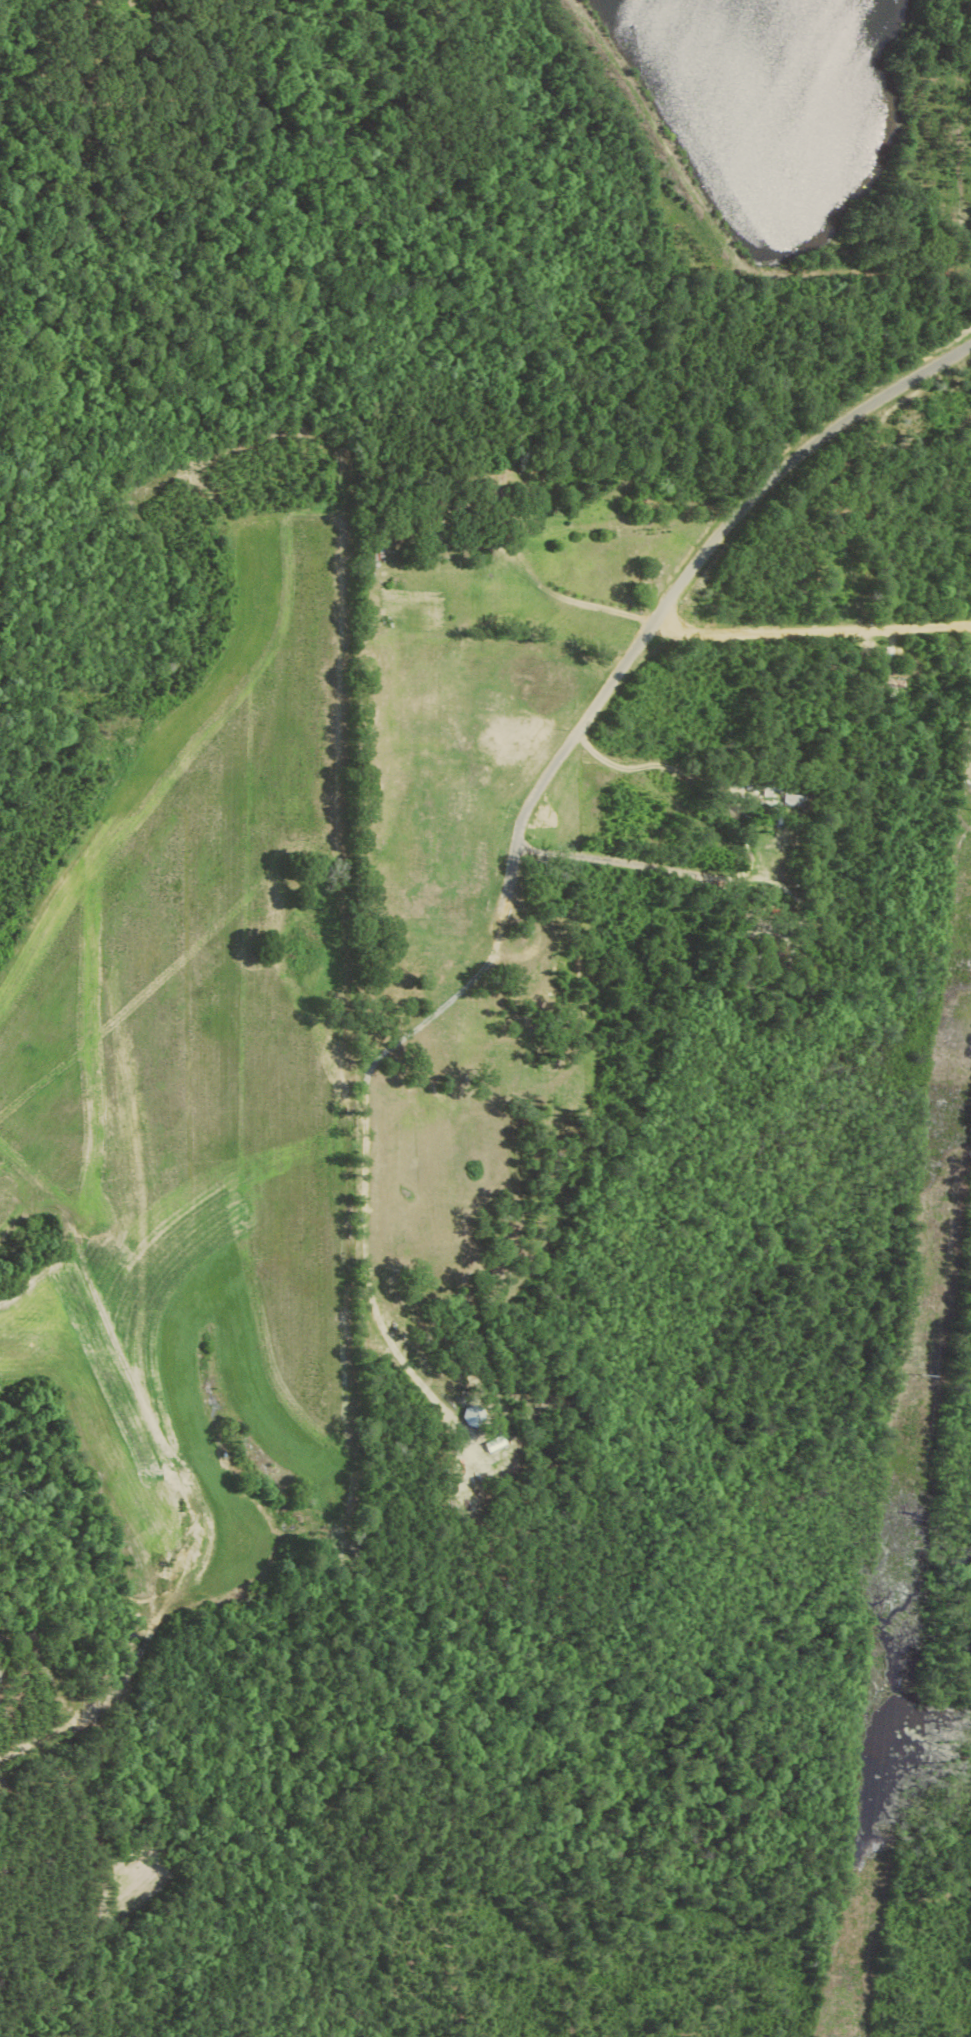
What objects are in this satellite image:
road: (678, 591)
road: (812, 628)
road: (158, 1301)
building: (493, 1443)

